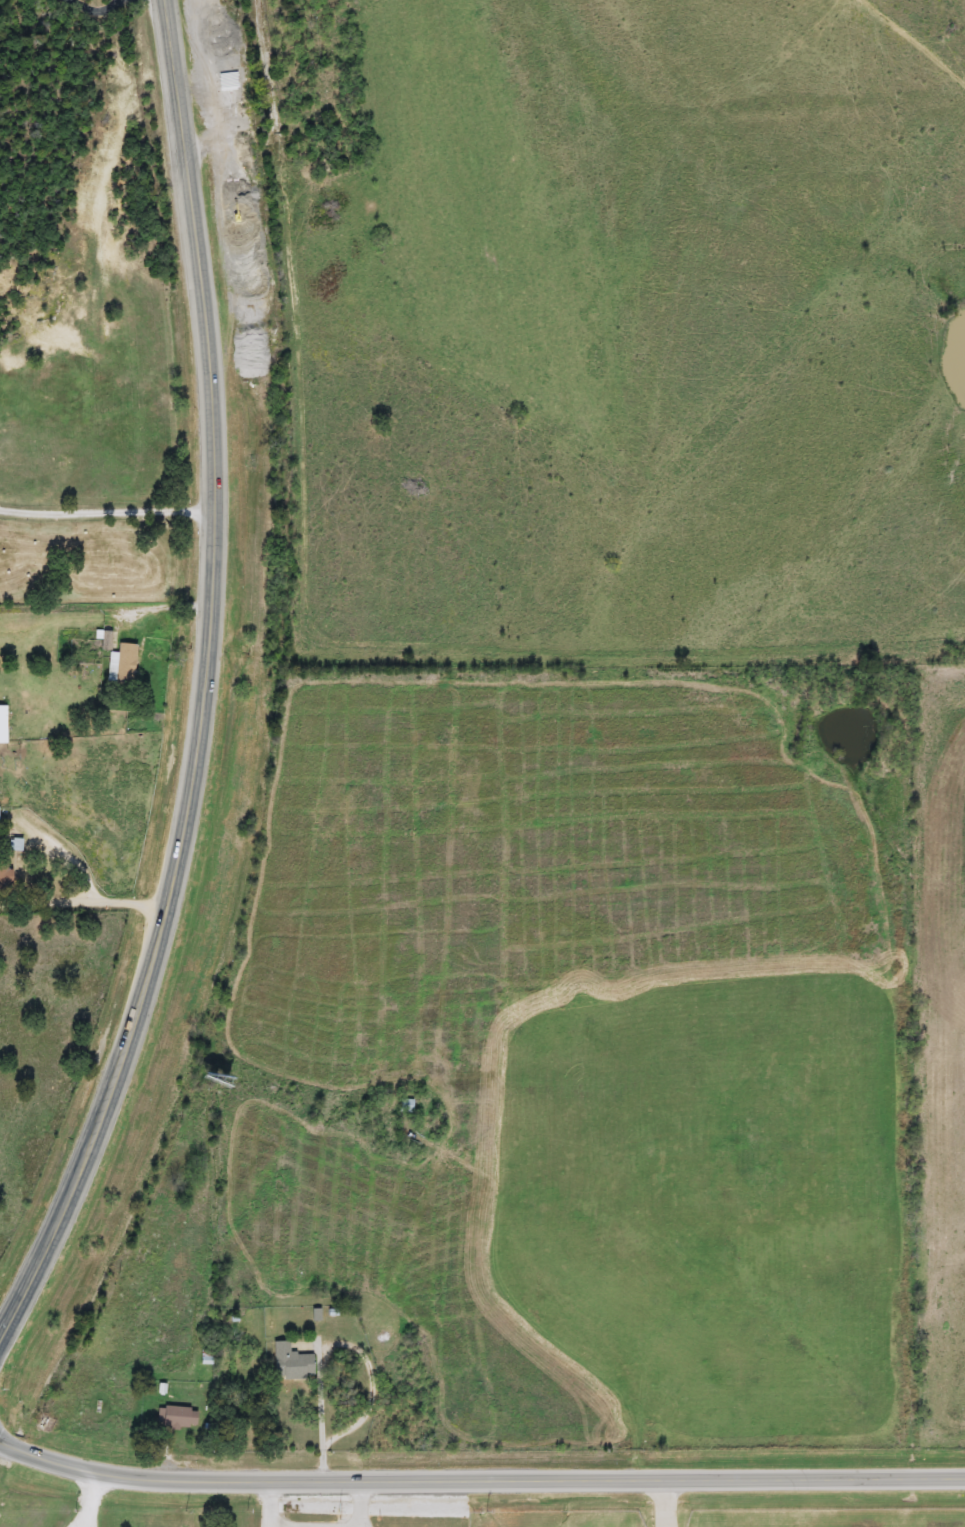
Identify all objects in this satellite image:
road: (97, 15)
road: (230, 85)
road: (106, 509)
building: (118, 656)
road: (203, 682)
building: (2, 725)
railway: (269, 741)
building: (4, 875)
road: (83, 899)
building: (207, 1079)
building: (404, 1107)
road: (323, 1346)
building: (290, 1362)
building: (176, 1417)
road: (323, 1459)
road: (479, 1477)
road: (91, 1500)
road: (269, 1502)

